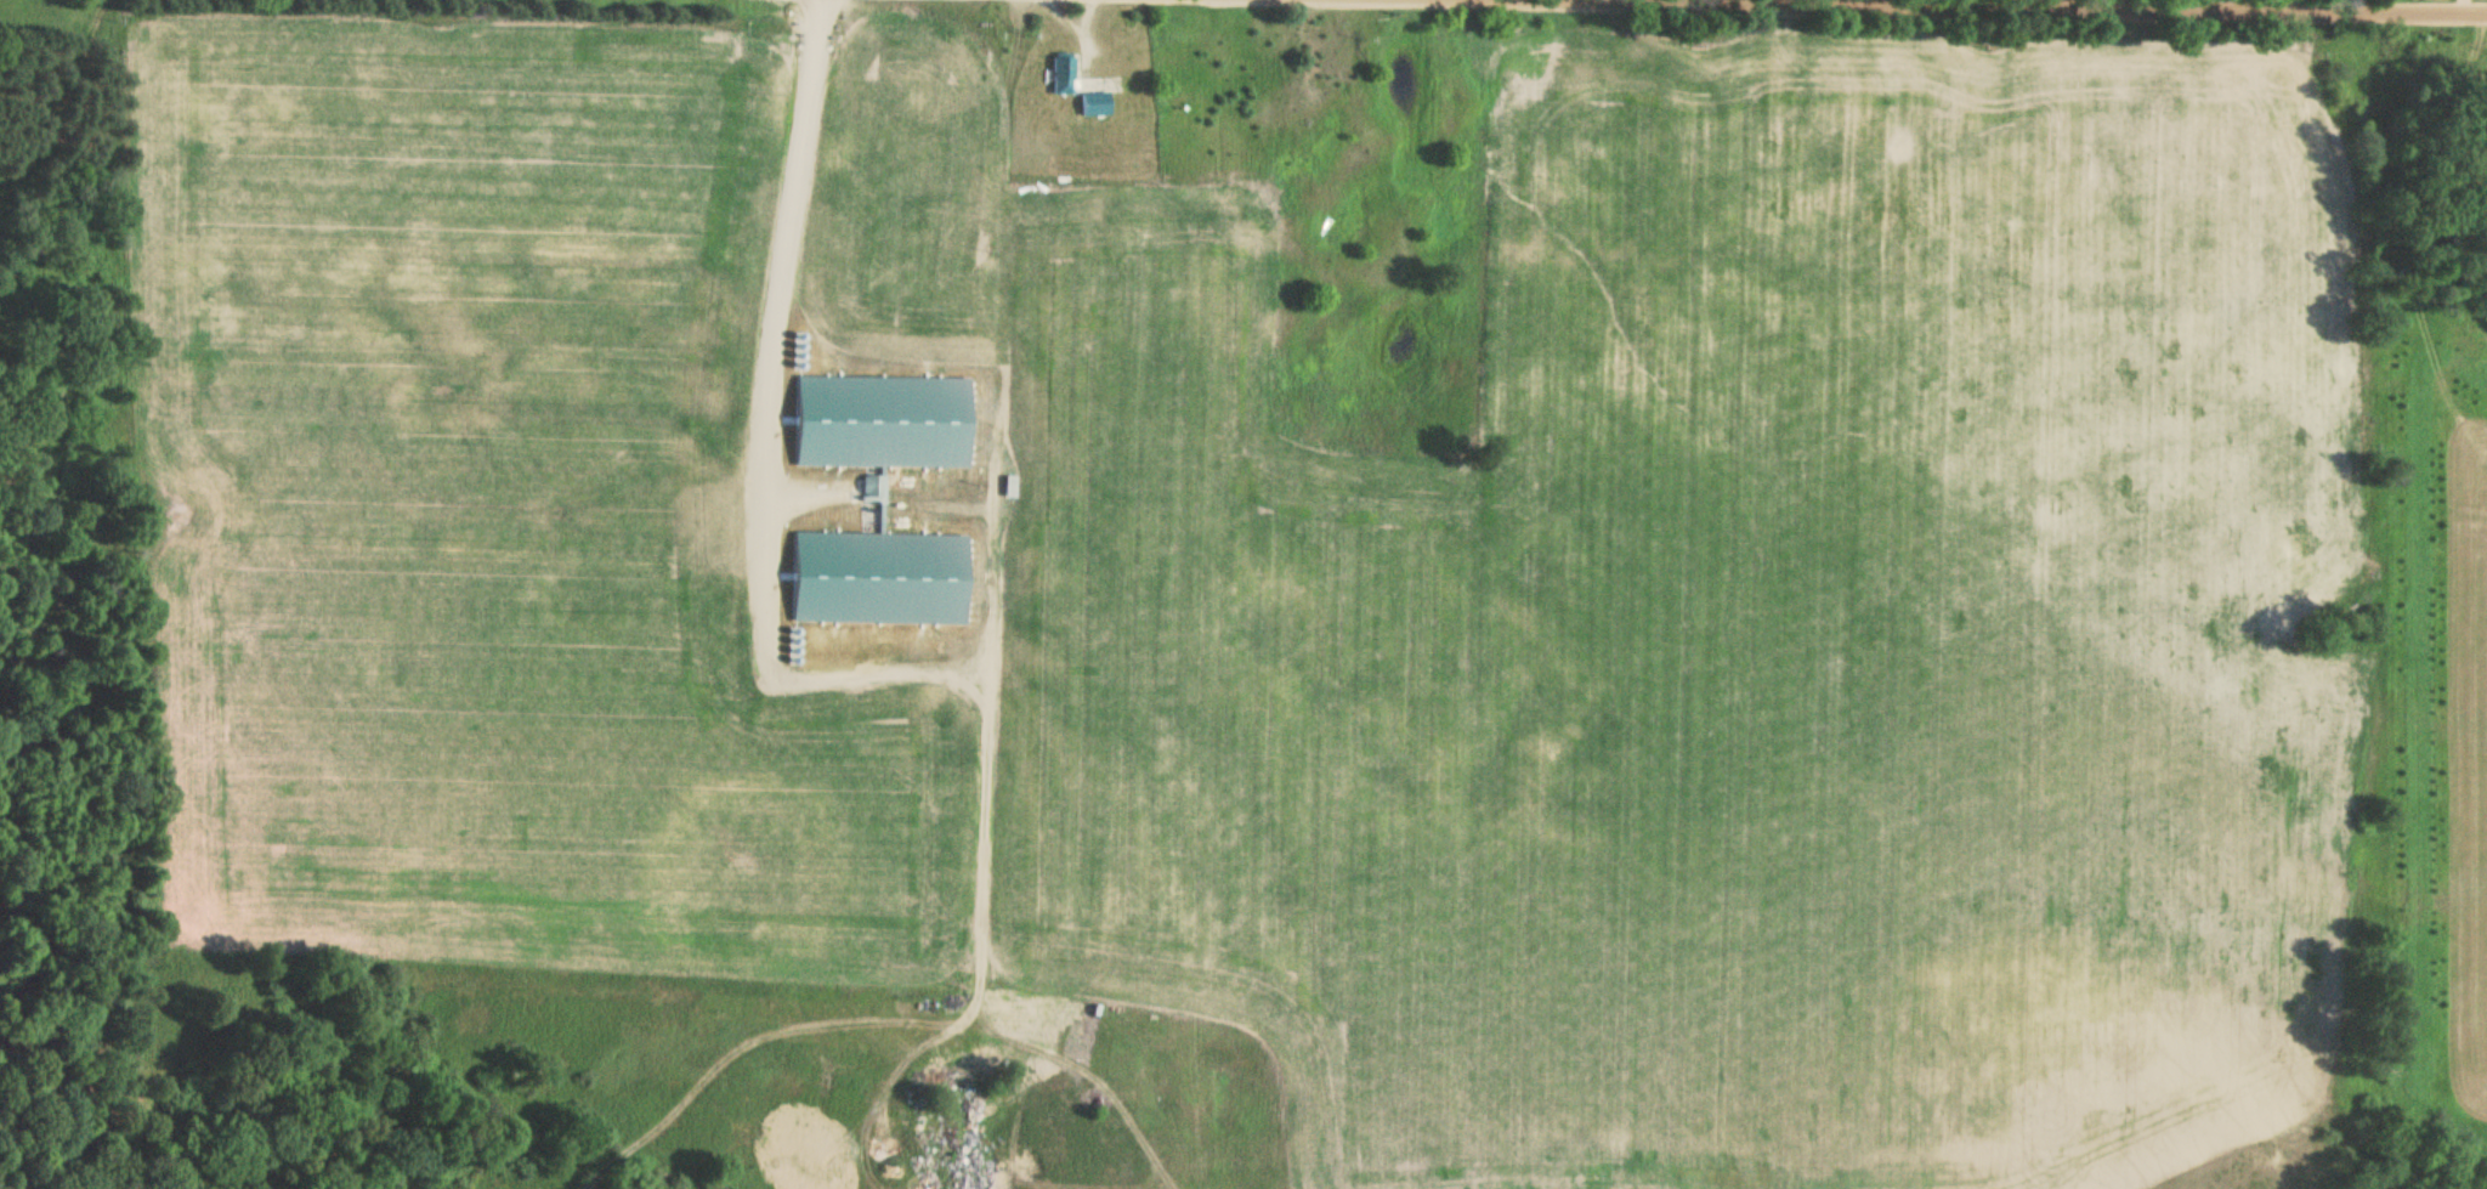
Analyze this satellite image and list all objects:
road: (2140, 5)
road: (2460, 5)
road: (1084, 18)
road: (1076, 28)
building: (1071, 87)

